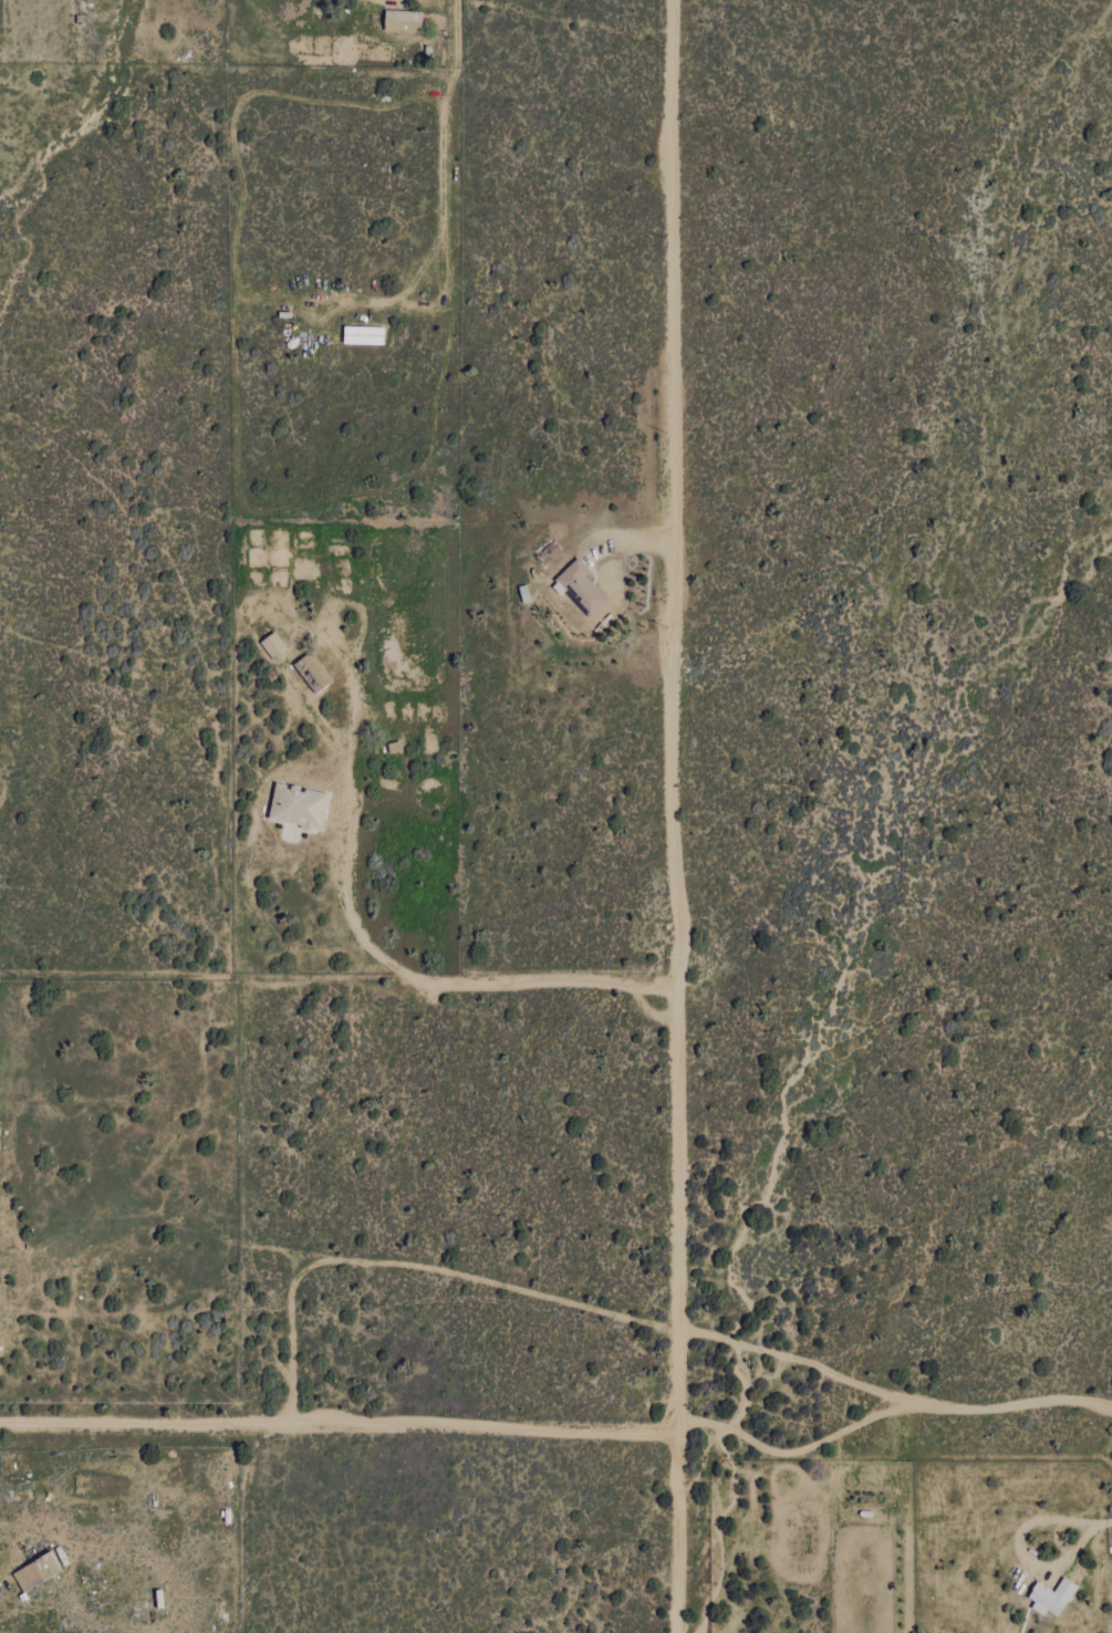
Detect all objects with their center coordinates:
road: (389, 2)
building: (401, 21)
road: (445, 197)
building: (254, 559)
building: (579, 589)
building: (272, 645)
building: (297, 810)
road: (674, 816)
road: (434, 984)
road: (568, 1433)
road: (1097, 1516)
road: (1011, 1546)
building: (1051, 1596)

